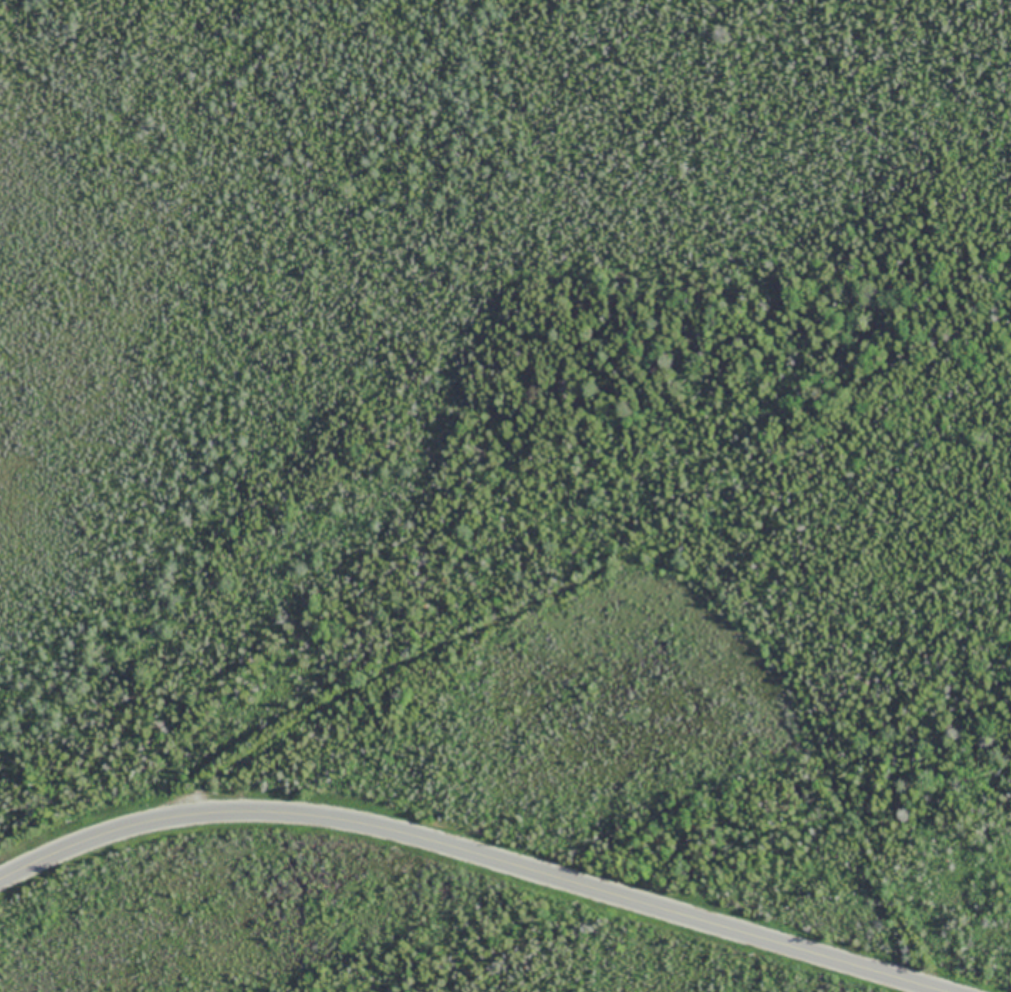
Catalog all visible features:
road: (660, 548)
road: (469, 857)

